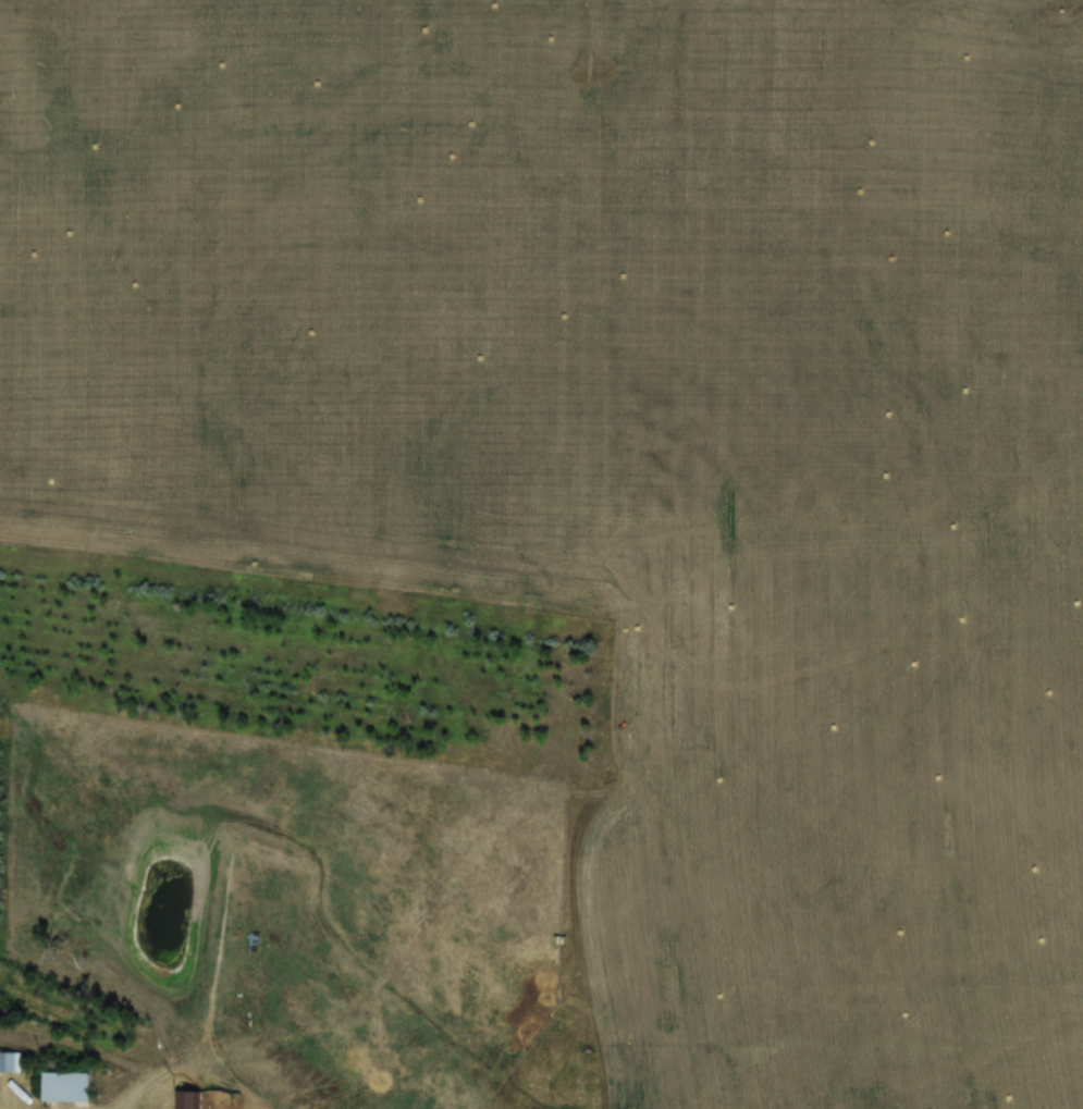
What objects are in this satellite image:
building: (8, 1062)
building: (57, 1080)
building: (187, 1099)

